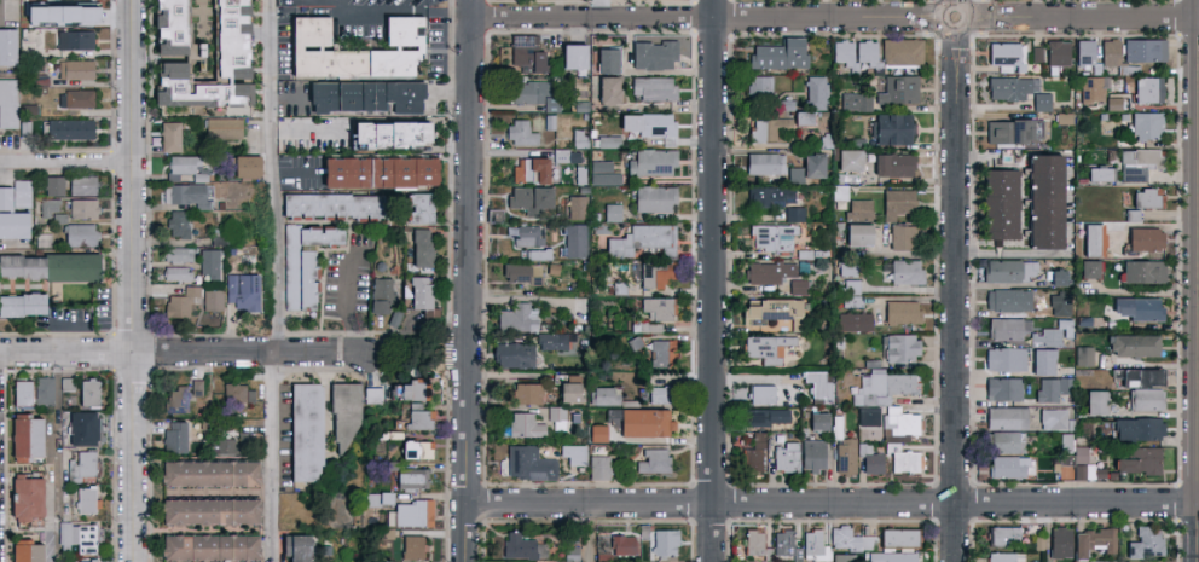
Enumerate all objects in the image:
road: (0, 5)
road: (386, 8)
building: (52, 16)
road: (706, 17)
road: (1084, 17)
building: (163, 22)
road: (954, 31)
building: (222, 39)
building: (74, 40)
building: (5, 47)
building: (1142, 48)
building: (864, 50)
building: (899, 50)
building: (1083, 50)
building: (348, 51)
building: (1107, 51)
building: (651, 53)
building: (777, 53)
building: (1036, 53)
building: (525, 54)
building: (570, 54)
building: (842, 54)
building: (1006, 56)
building: (604, 58)
building: (74, 69)
building: (36, 83)
building: (1009, 86)
building: (187, 87)
building: (651, 87)
building: (758, 87)
building: (606, 88)
building: (897, 88)
building: (1090, 88)
building: (1147, 88)
road: (452, 91)
building: (815, 91)
building: (532, 92)
building: (363, 95)
building: (73, 99)
road: (288, 99)
building: (855, 100)
building: (1039, 100)
building: (7, 102)
building: (1111, 103)
building: (800, 116)
building: (1062, 117)
building: (645, 122)
building: (1146, 124)
building: (24, 127)
building: (221, 127)
building: (768, 127)
building: (890, 127)
building: (68, 129)
building: (1010, 129)
building: (382, 131)
road: (308, 132)
building: (517, 132)
building: (168, 137)
building: (577, 137)
building: (607, 140)
building: (847, 158)
building: (650, 161)
building: (761, 162)
road: (66, 163)
building: (891, 163)
building: (1139, 163)
building: (186, 166)
building: (248, 166)
building: (805, 168)
building: (375, 170)
road: (297, 173)
building: (602, 173)
building: (1100, 173)
building: (22, 184)
building: (51, 184)
building: (80, 184)
building: (838, 192)
building: (189, 193)
building: (769, 196)
building: (5, 197)
building: (653, 197)
building: (1147, 197)
building: (529, 198)
building: (24, 199)
building: (1041, 199)
building: (894, 202)
building: (996, 202)
building: (328, 204)
building: (48, 207)
building: (81, 207)
building: (417, 207)
building: (575, 207)
building: (853, 210)
building: (612, 212)
building: (793, 213)
building: (1131, 214)
building: (178, 222)
building: (12, 224)
building: (856, 232)
building: (79, 234)
building: (528, 234)
building: (218, 236)
building: (771, 236)
building: (900, 236)
building: (1091, 238)
building: (1143, 238)
building: (44, 239)
building: (574, 239)
building: (642, 239)
building: (418, 247)
building: (176, 253)
building: (534, 253)
building: (302, 261)
building: (208, 262)
building: (19, 265)
building: (68, 266)
building: (1085, 267)
building: (1008, 270)
building: (768, 271)
building: (904, 271)
building: (1142, 271)
building: (175, 272)
building: (521, 272)
building: (654, 273)
building: (1054, 277)
road: (134, 280)
road: (277, 280)
road: (471, 280)
road: (712, 280)
building: (797, 286)
building: (243, 290)
building: (850, 292)
building: (380, 294)
road: (955, 296)
building: (213, 299)
building: (1007, 299)
building: (181, 301)
building: (21, 303)
road: (347, 303)
building: (419, 303)
building: (658, 307)
building: (1136, 307)
building: (771, 311)
building: (899, 311)
building: (516, 317)
building: (852, 320)
building: (1004, 328)
building: (1055, 331)
building: (551, 341)
road: (404, 343)
building: (1133, 344)
building: (899, 346)
building: (766, 348)
road: (195, 350)
building: (659, 352)
building: (510, 354)
building: (1083, 355)
building: (1003, 358)
building: (1041, 360)
building: (1136, 376)
building: (68, 382)
building: (195, 386)
building: (819, 386)
building: (881, 386)
building: (566, 387)
building: (1002, 388)
building: (1052, 388)
building: (44, 389)
building: (413, 389)
building: (19, 392)
building: (86, 392)
building: (523, 392)
building: (237, 393)
building: (659, 393)
building: (740, 394)
building: (760, 394)
building: (604, 395)
building: (175, 398)
building: (1145, 398)
building: (1094, 401)
building: (343, 411)
building: (867, 415)
building: (556, 416)
building: (766, 416)
building: (1004, 417)
building: (418, 418)
building: (817, 419)
building: (1054, 419)
building: (643, 422)
building: (522, 424)
building: (897, 424)
building: (81, 427)
building: (1136, 427)
building: (303, 431)
building: (596, 433)
building: (173, 435)
road: (1197, 435)
building: (22, 438)
building: (1004, 441)
building: (1065, 442)
building: (389, 444)
building: (225, 445)
building: (413, 448)
building: (751, 450)
building: (844, 453)
building: (1079, 453)
building: (812, 454)
road: (58, 457)
building: (786, 457)
building: (868, 458)
building: (1065, 459)
building: (1136, 459)
building: (651, 460)
building: (902, 460)
building: (527, 462)
building: (80, 465)
building: (1007, 465)
building: (596, 467)
building: (204, 471)
building: (1078, 471)
building: (409, 477)
building: (22, 497)
building: (381, 497)
building: (86, 499)
road: (832, 503)
building: (204, 509)
building: (412, 512)
road: (1071, 518)
road: (587, 533)
building: (1003, 535)
building: (897, 537)
building: (86, 538)
building: (782, 538)
building: (850, 539)
building: (662, 541)
building: (1060, 541)
building: (1093, 541)
building: (1145, 541)
building: (204, 545)
building: (398, 545)
building: (521, 546)
building: (616, 546)
building: (294, 547)
building: (22, 550)
building: (569, 552)
building: (888, 556)
building: (1000, 556)
building: (844, 557)
building: (86, 561)
building: (527, 561)
building: (654, 561)
building: (1096, 561)

